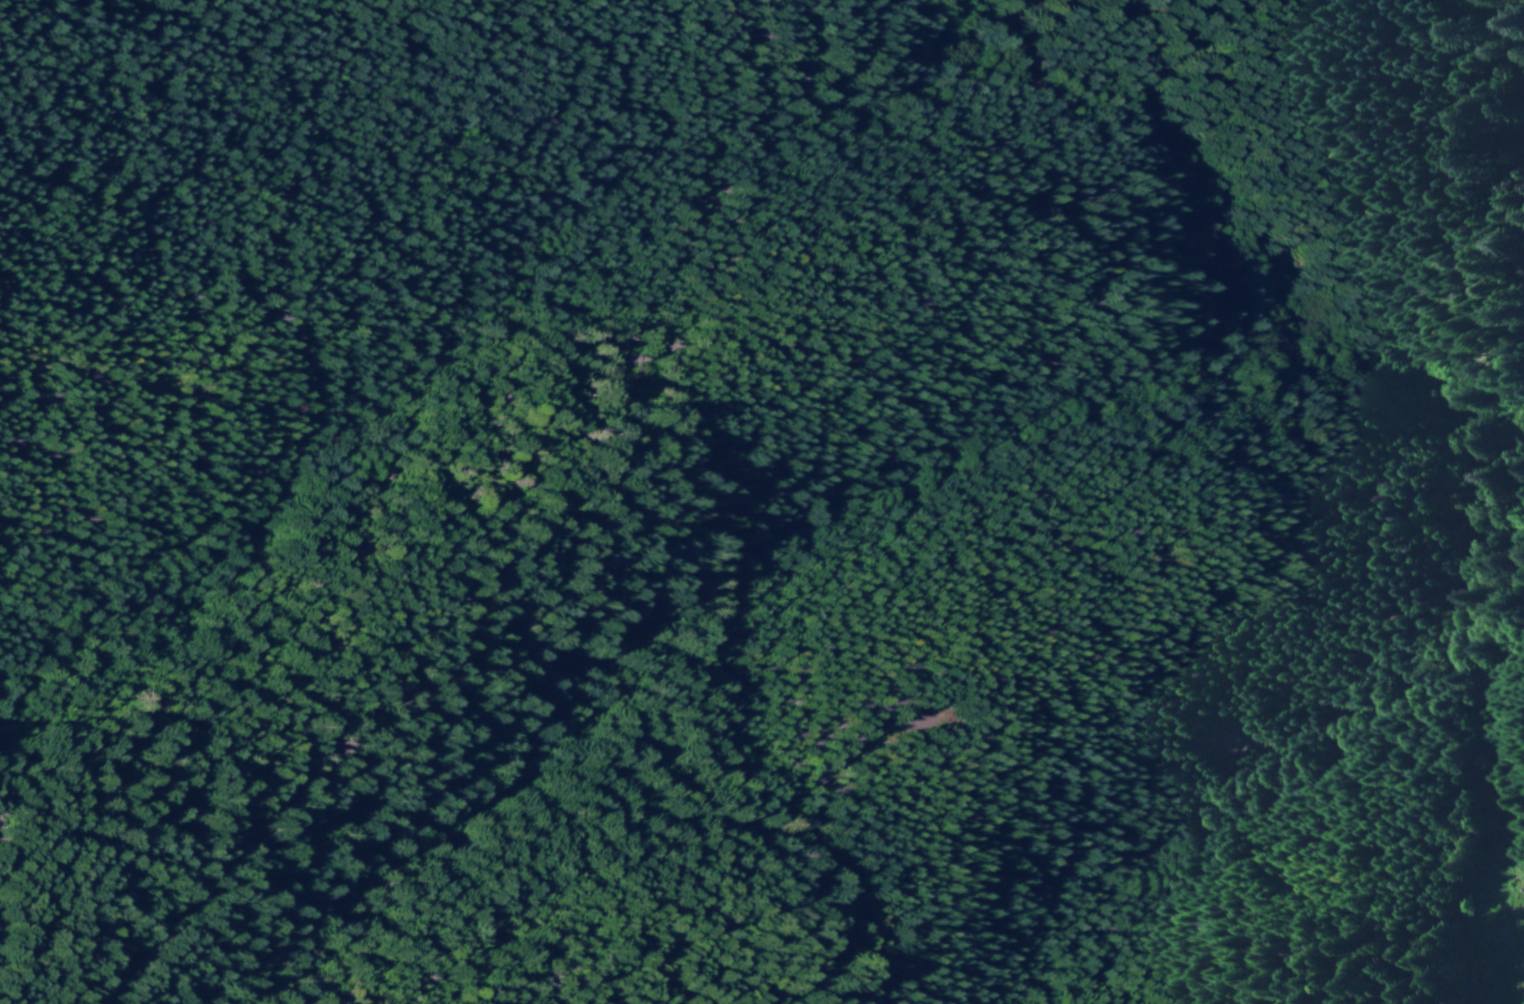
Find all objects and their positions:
road: (797, 922)

